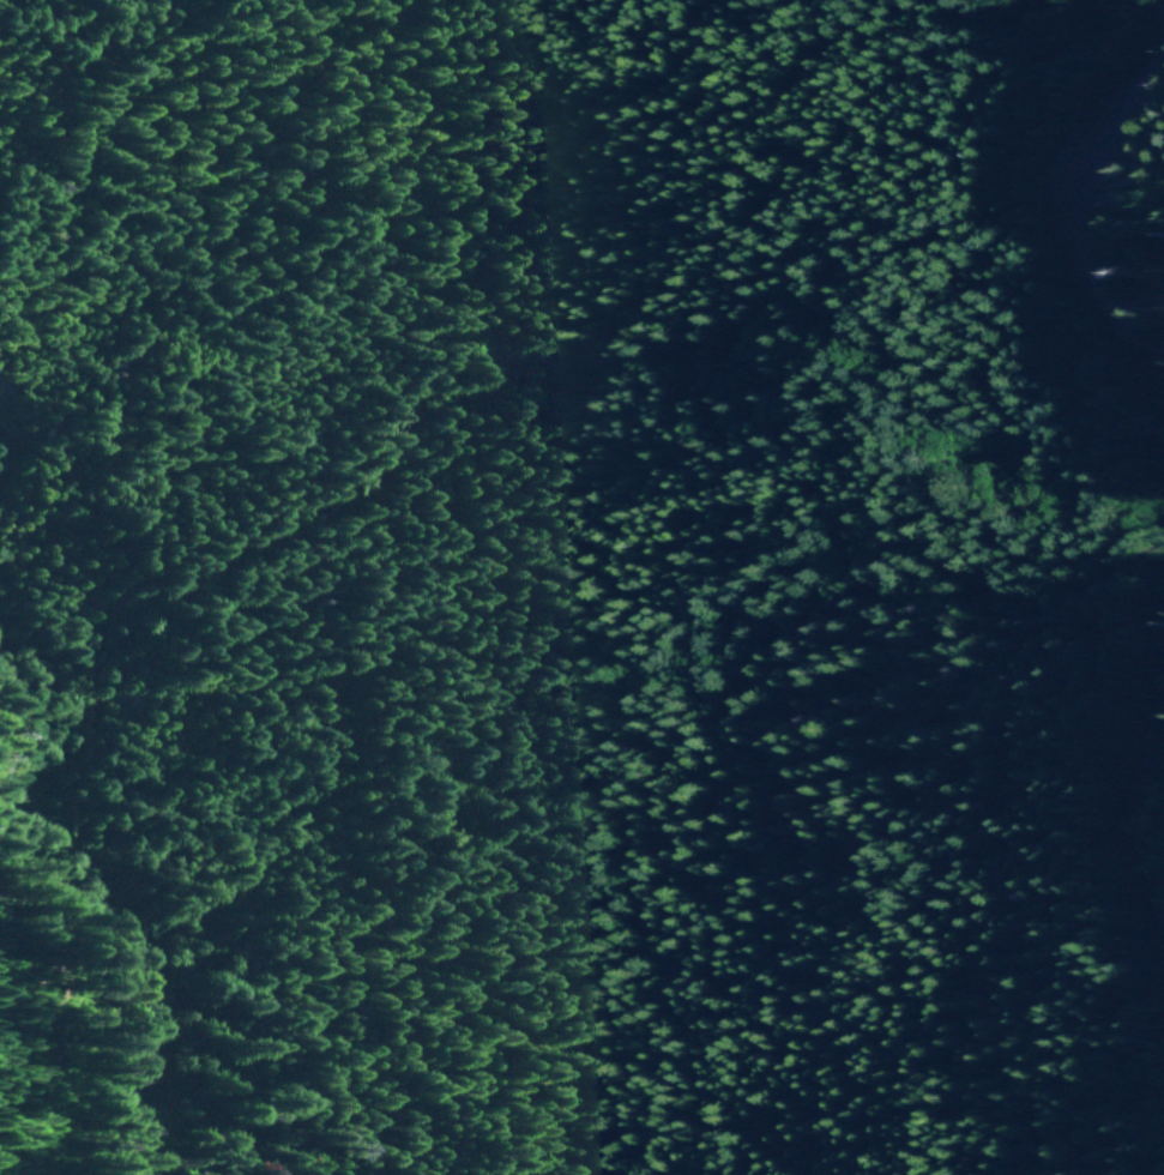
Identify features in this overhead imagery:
road: (1157, 523)

